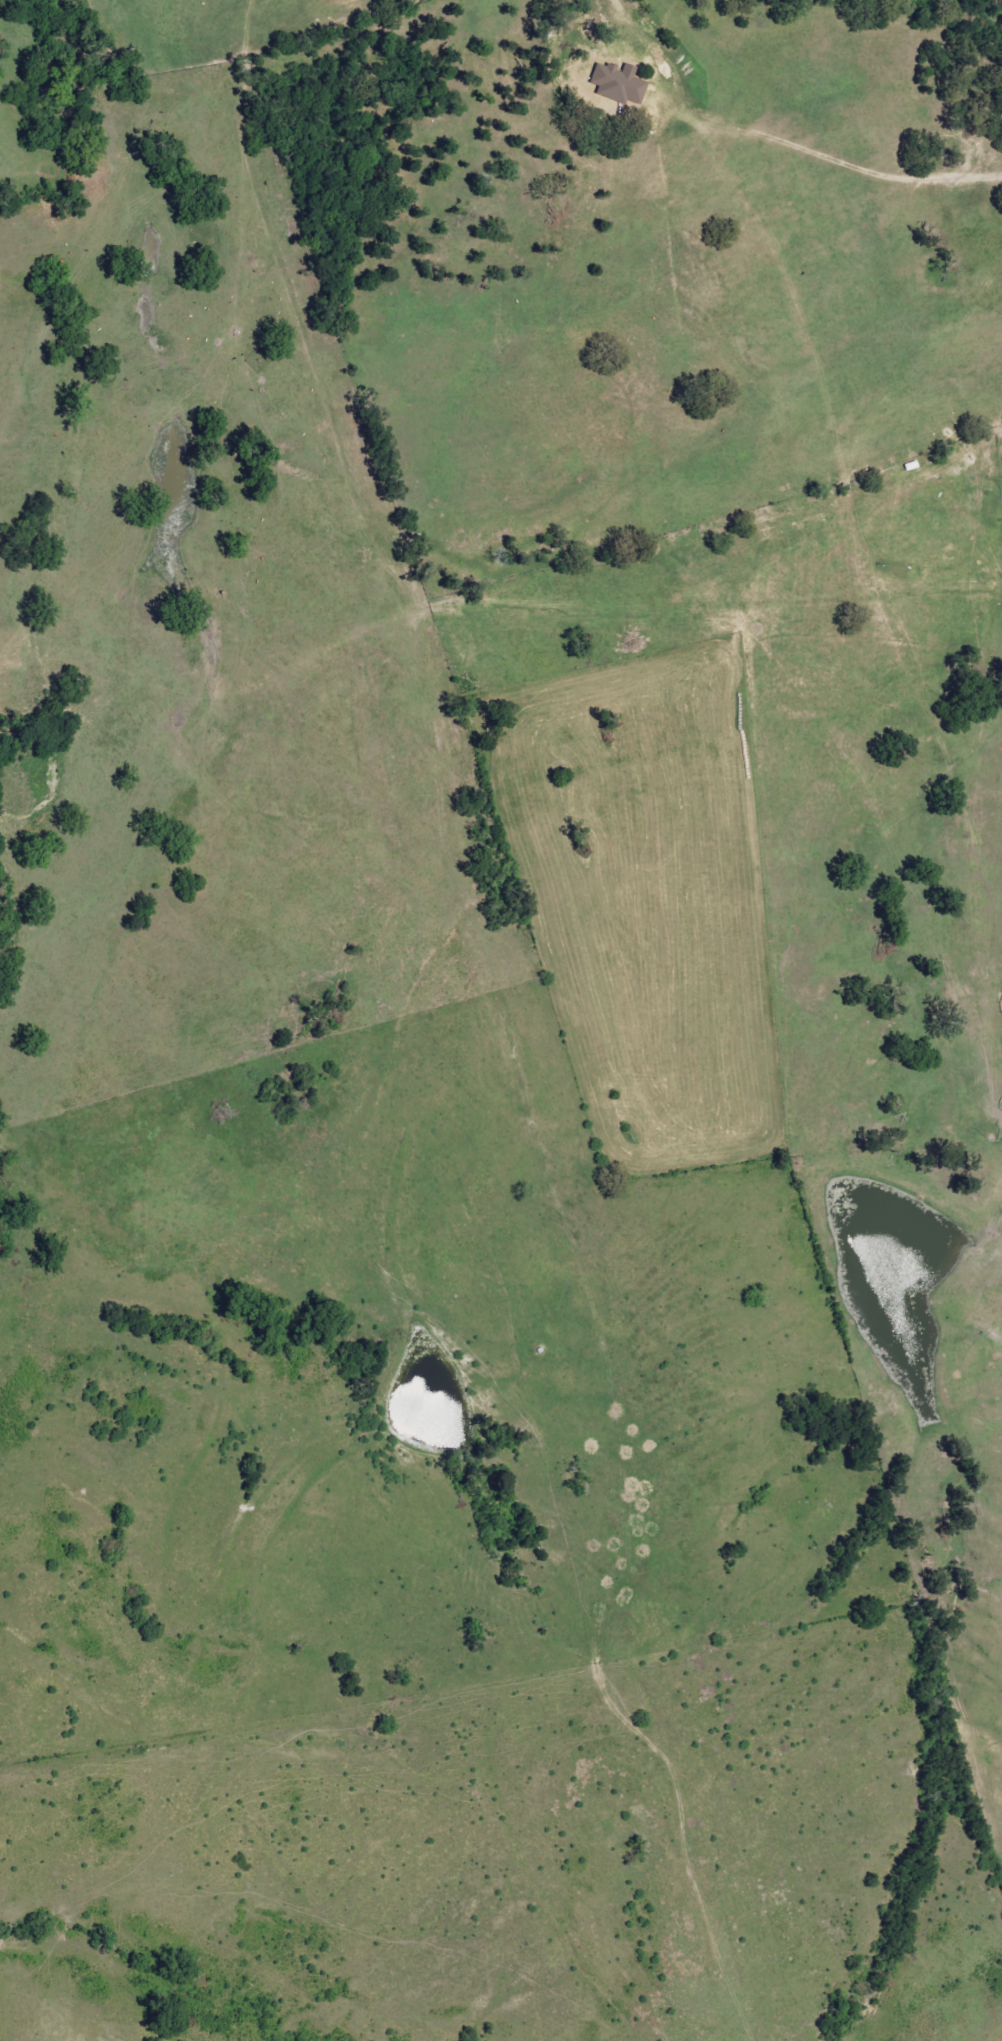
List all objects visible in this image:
road: (791, 134)

